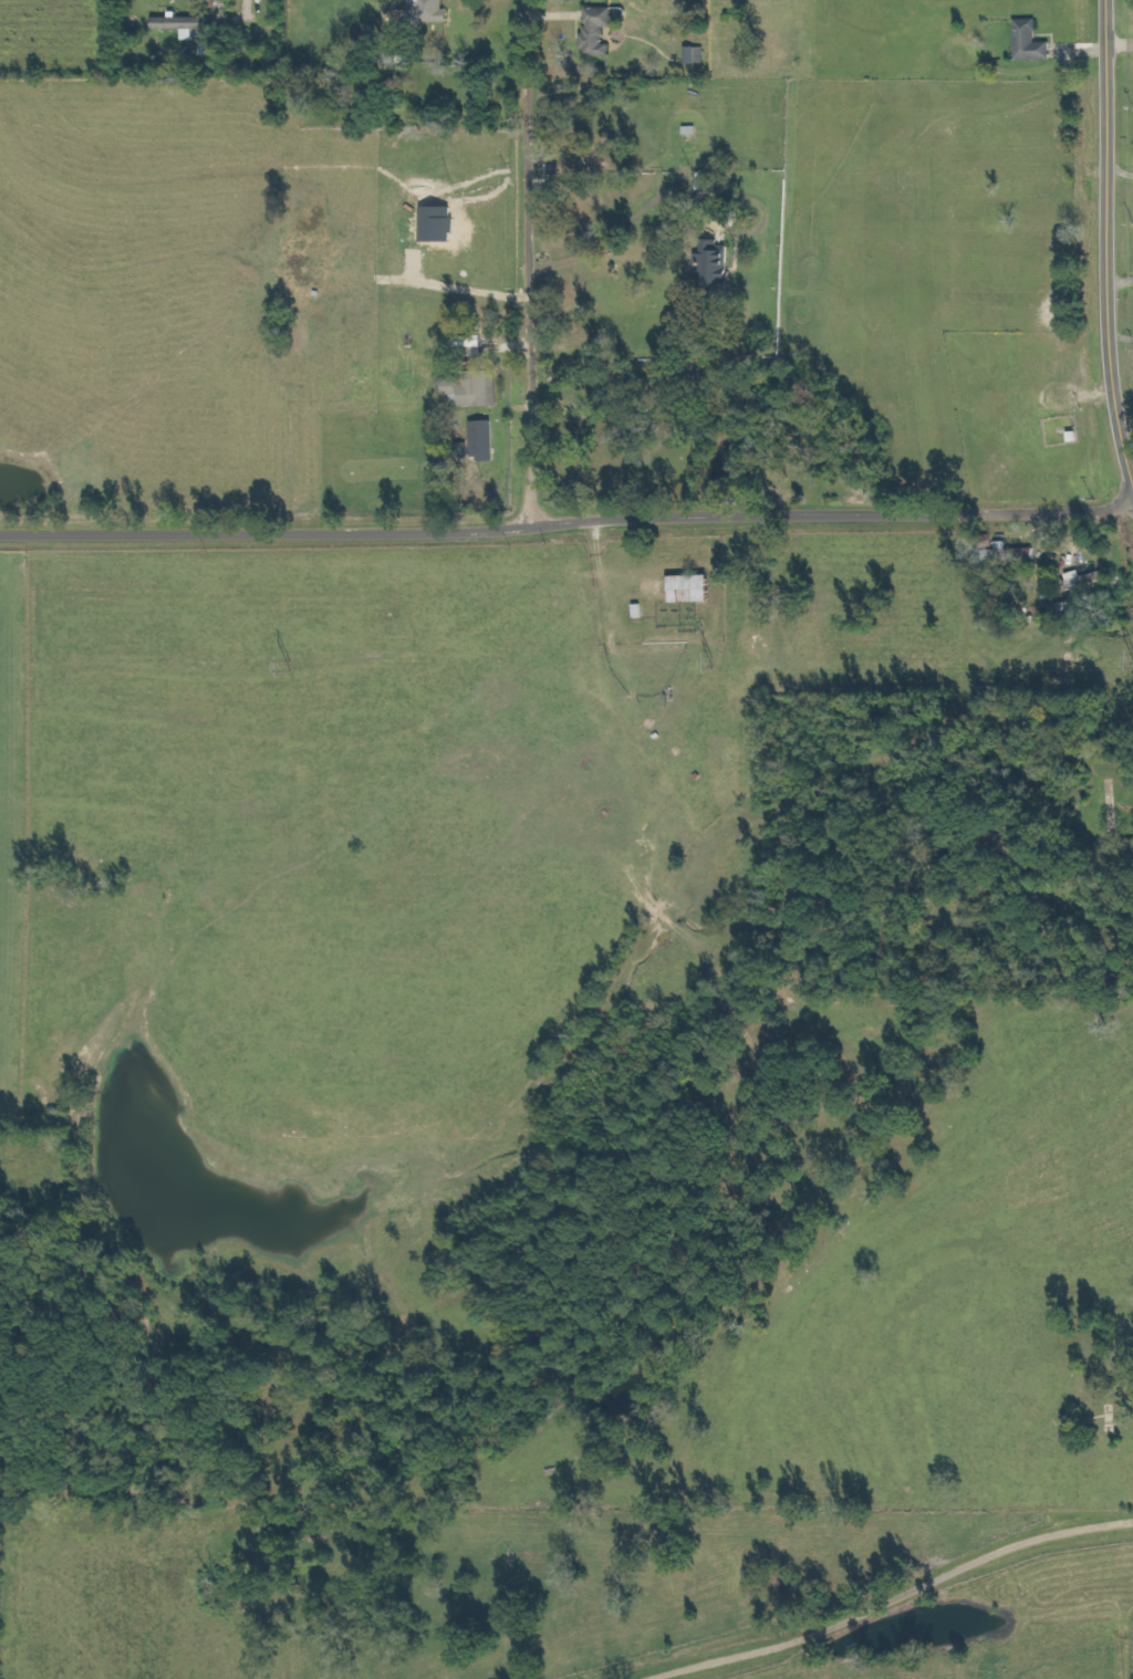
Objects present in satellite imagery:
building: (433, 11)
building: (185, 22)
building: (600, 31)
building: (1030, 42)
road: (1119, 42)
building: (698, 55)
road: (1104, 121)
building: (710, 180)
building: (717, 262)
road: (528, 263)
road: (1109, 366)
building: (476, 388)
building: (485, 440)
road: (568, 522)
building: (1012, 554)
building: (1085, 583)
building: (696, 588)
power tower: (1132, 659)
power tower: (720, 665)
power tower: (283, 666)

